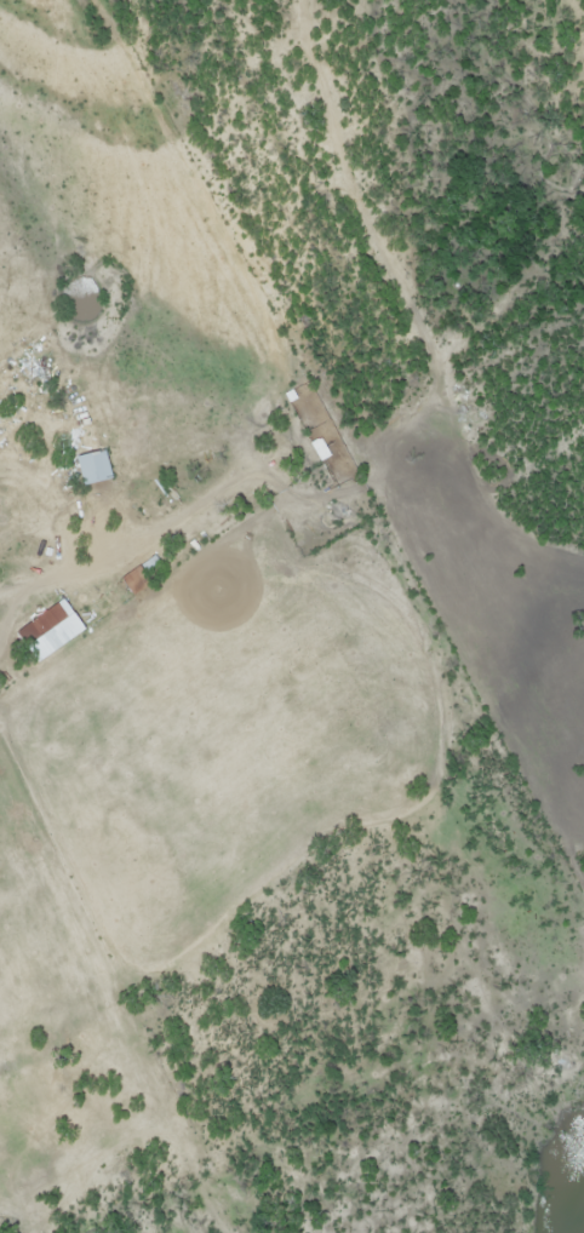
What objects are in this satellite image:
building: (93, 469)
road: (130, 560)

